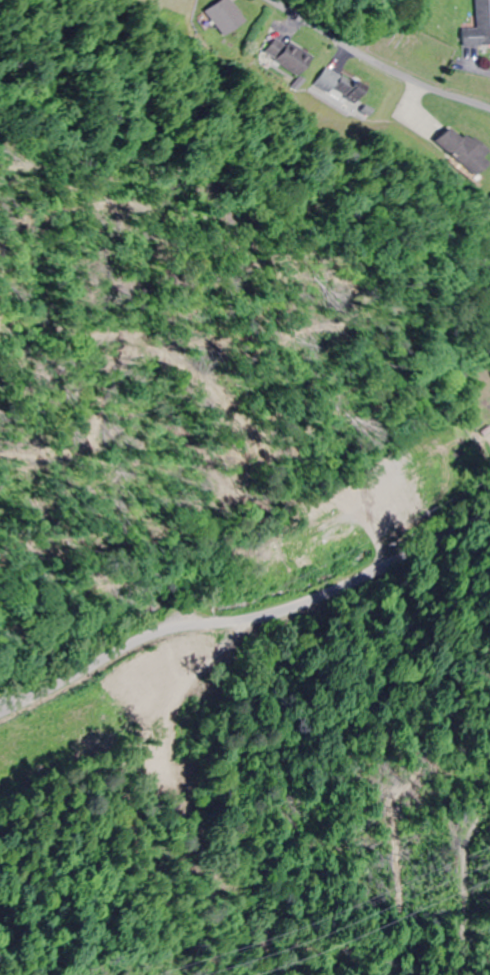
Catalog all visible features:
building: (225, 17)
building: (479, 24)
building: (290, 55)
building: (342, 87)
building: (462, 150)
road: (274, 394)
building: (416, 449)
building: (386, 461)
building: (301, 509)
building: (403, 509)
building: (325, 540)
building: (270, 561)
road: (237, 563)

